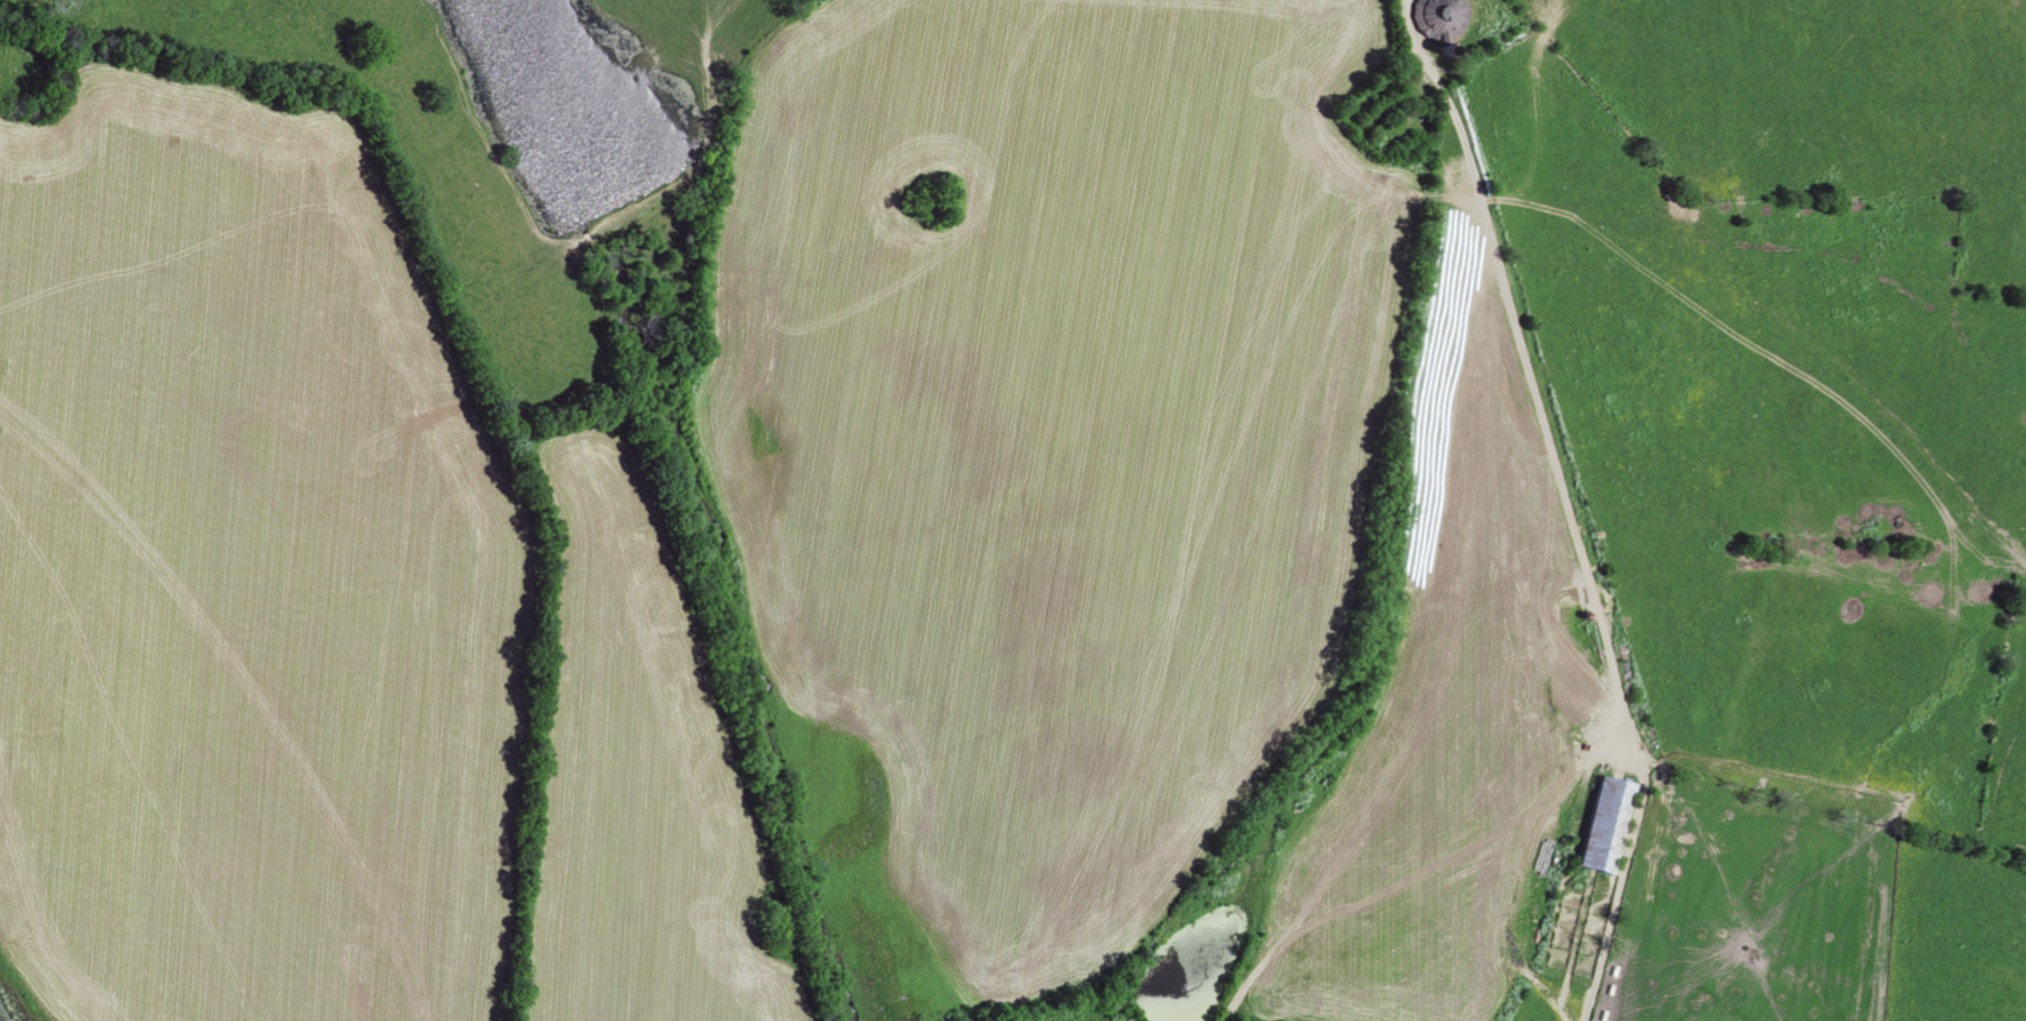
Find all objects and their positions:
road: (1518, 336)
building: (1606, 825)
road: (1628, 1014)

